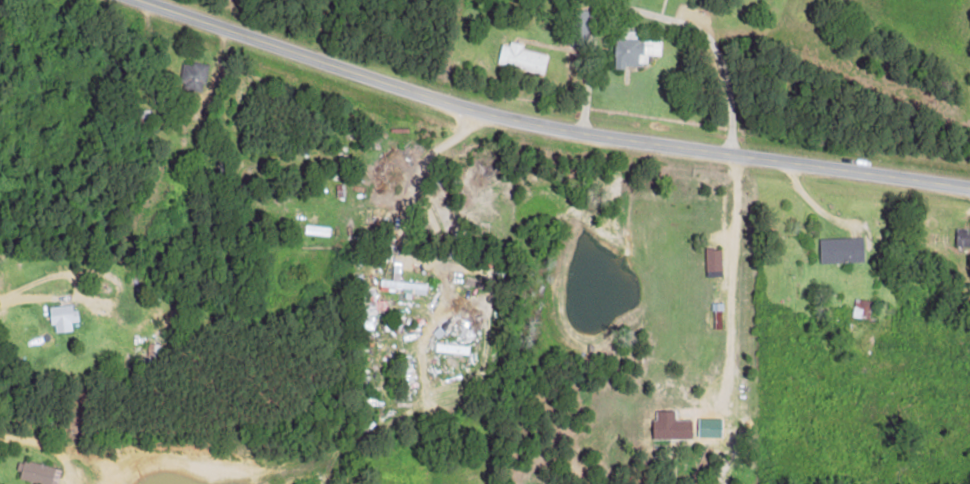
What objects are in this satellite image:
road: (301, 26)
building: (579, 26)
road: (411, 45)
building: (633, 49)
building: (520, 58)
building: (193, 76)
road: (957, 113)
road: (545, 125)
building: (963, 238)
building: (840, 250)
building: (712, 261)
building: (401, 286)
building: (860, 308)
building: (370, 309)
building: (61, 318)
building: (669, 427)
building: (38, 473)

